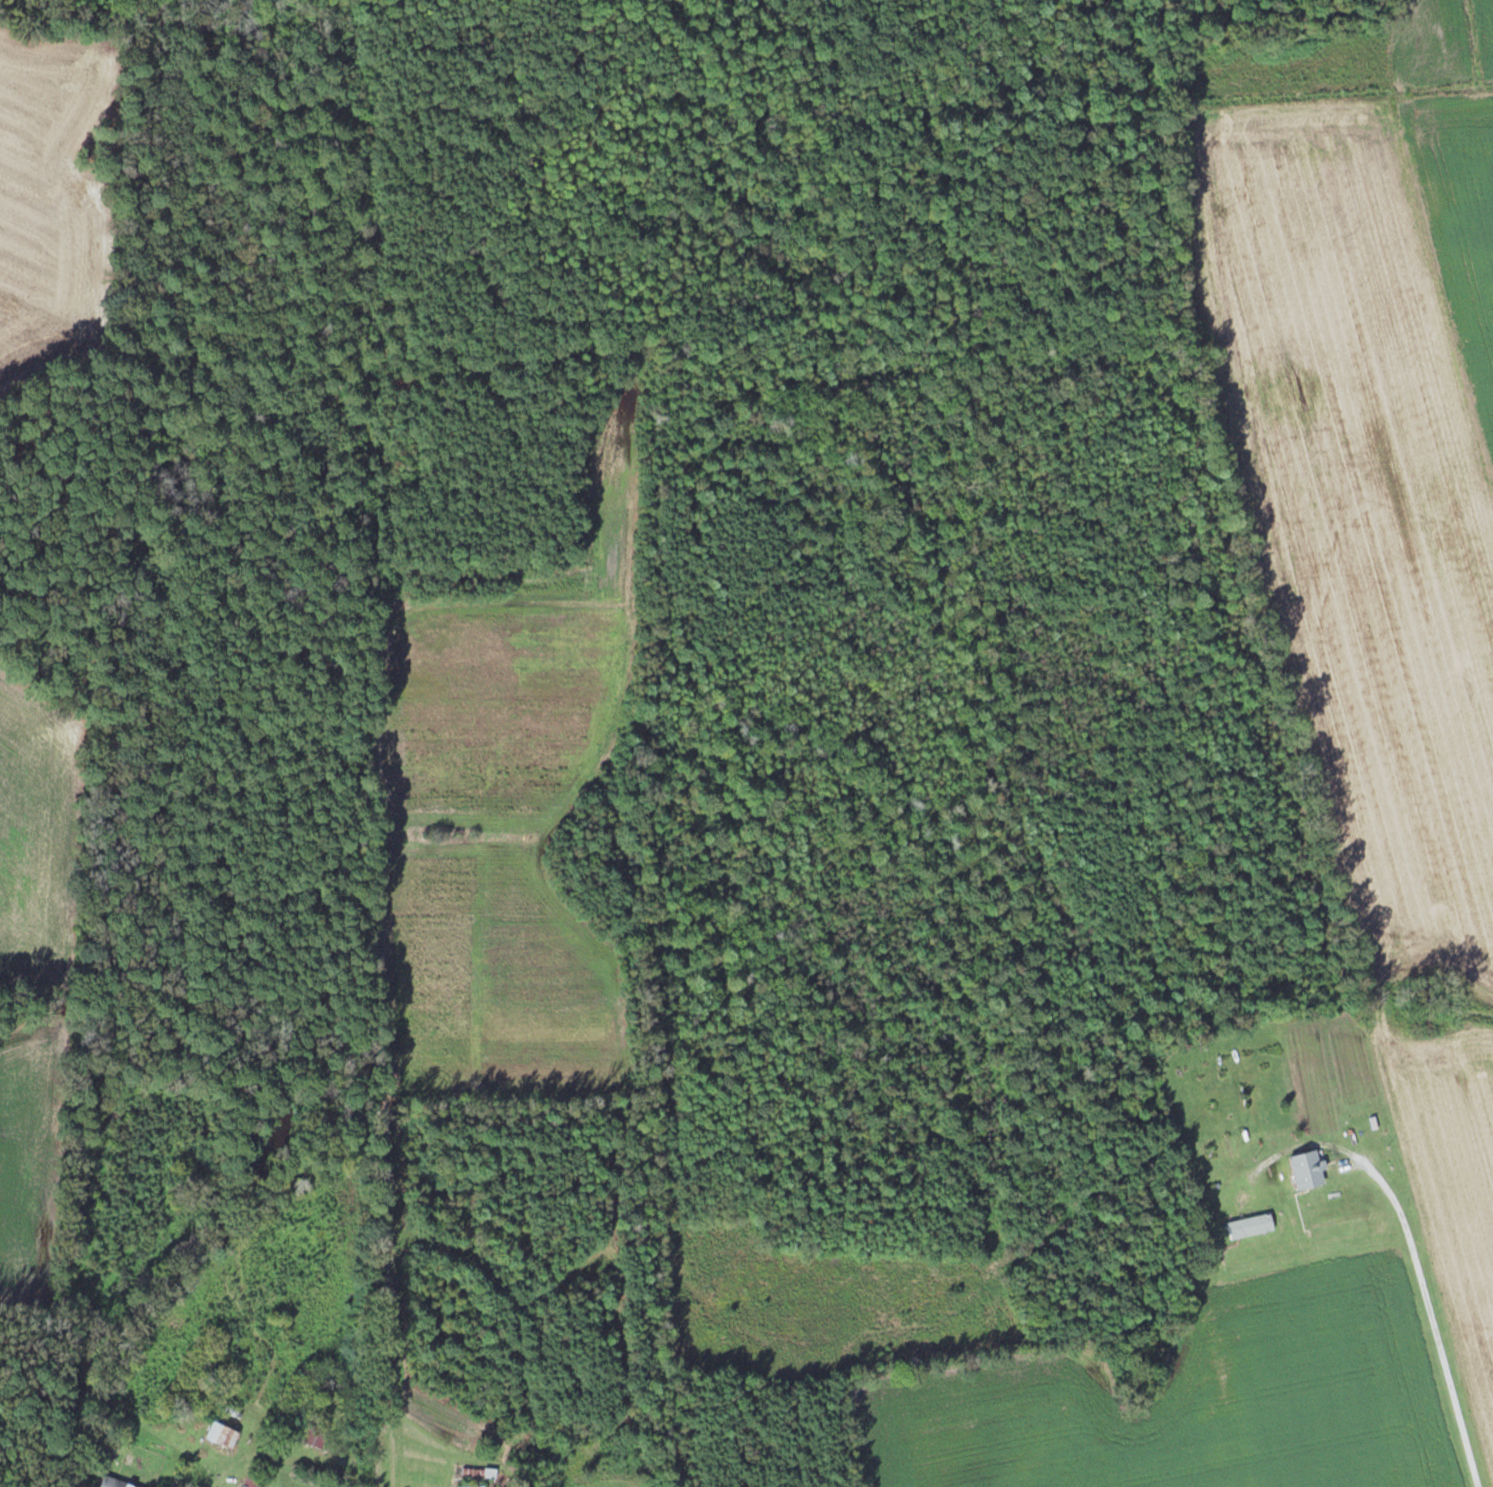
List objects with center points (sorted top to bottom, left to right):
building: (1303, 1171)
building: (1247, 1227)
road: (1417, 1260)
building: (217, 1435)
building: (306, 1436)
building: (485, 1472)
building: (251, 1479)
building: (107, 1482)
building: (466, 1486)

